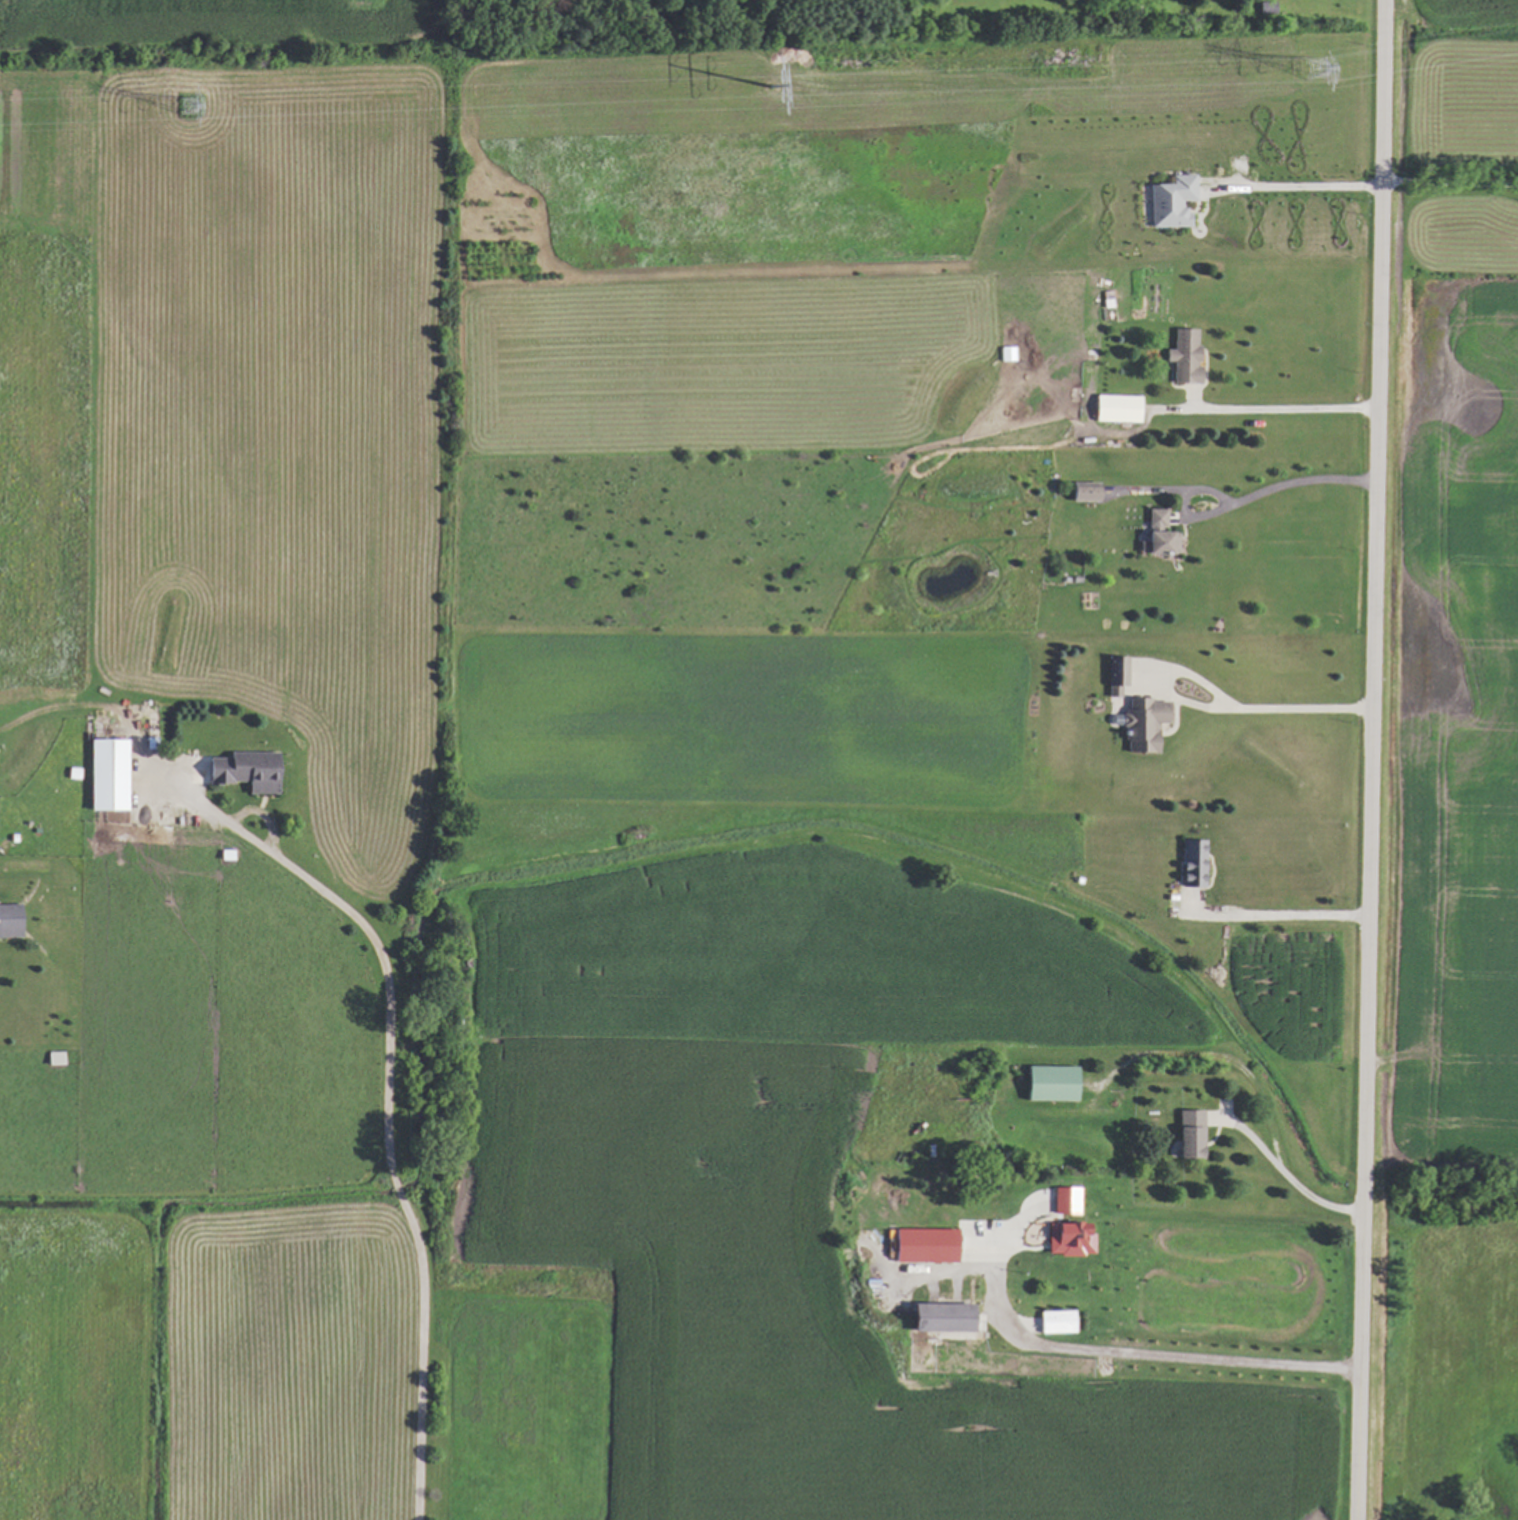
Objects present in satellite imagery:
power tower: (1306, 77)
power tower: (782, 91)
power tower: (182, 112)
road: (1449, 185)
road: (1288, 191)
building: (1169, 200)
building: (1007, 353)
building: (1183, 356)
crop: (370, 365)
building: (1116, 408)
road: (1281, 412)
road: (1287, 485)
building: (1083, 491)
building: (1159, 534)
crop: (1456, 604)
road: (1225, 705)
building: (1145, 722)
road: (1371, 760)
building: (243, 769)
building: (105, 772)
building: (1190, 861)
road: (1277, 917)
building: (8, 919)
building: (53, 1057)
building: (1047, 1082)
road: (390, 1103)
building: (1187, 1131)
road: (1283, 1176)
building: (1063, 1199)
road: (1177, 1215)
building: (1066, 1238)
building: (922, 1244)
building: (938, 1316)
building: (1055, 1320)
road: (1163, 1355)

